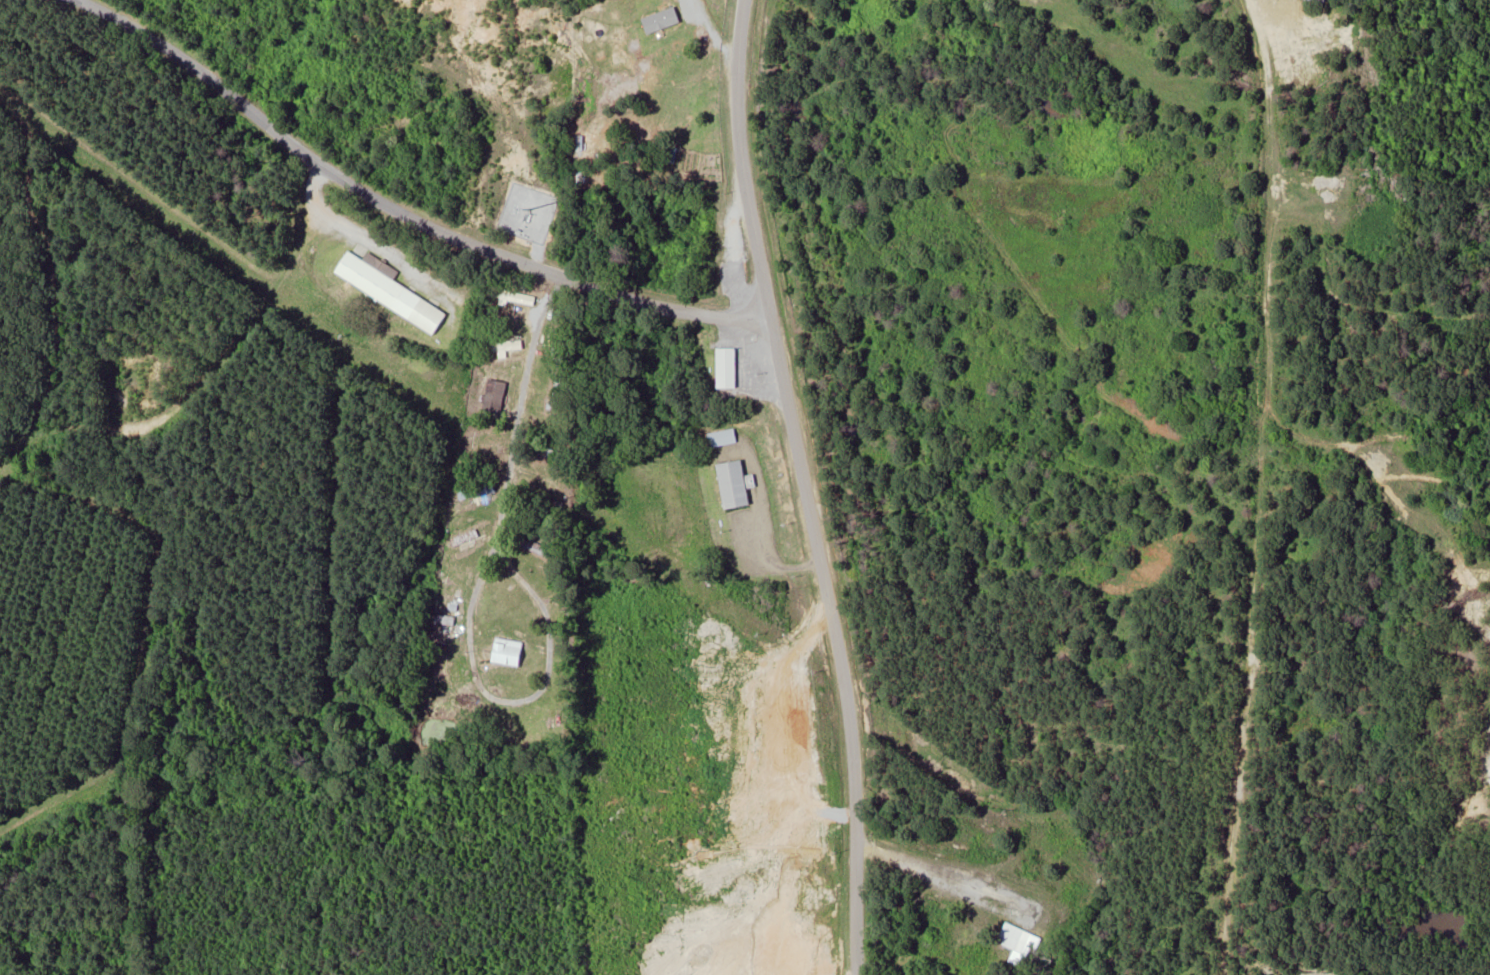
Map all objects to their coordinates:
building: (661, 20)
road: (397, 207)
building: (390, 289)
building: (727, 369)
building: (557, 392)
building: (496, 397)
road: (527, 409)
building: (723, 438)
building: (735, 485)
road: (804, 487)
building: (536, 548)
building: (509, 652)
building: (1020, 943)

